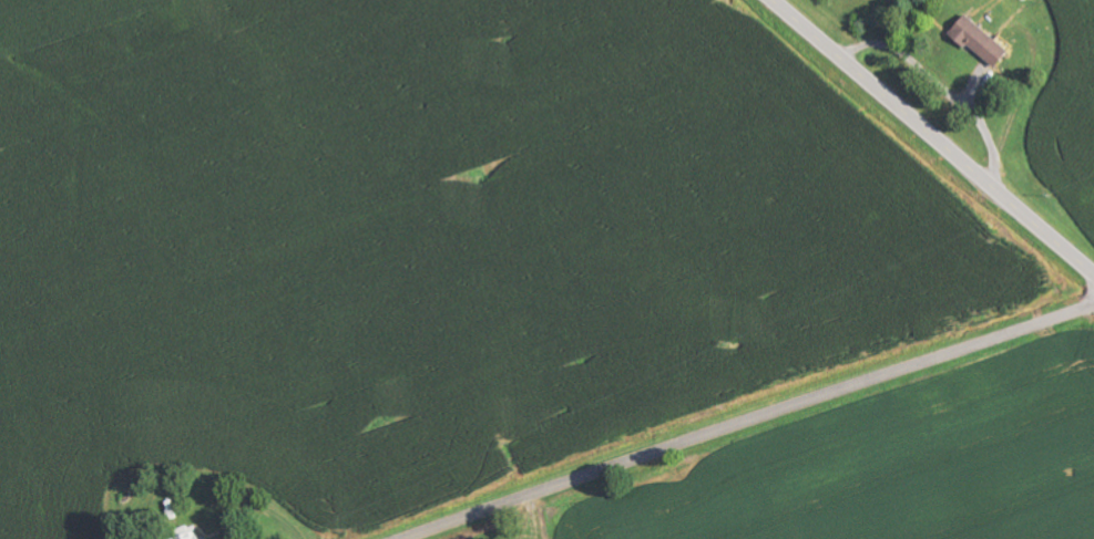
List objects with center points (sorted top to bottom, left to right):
building: (980, 42)
road: (933, 136)
road: (747, 421)
building: (190, 536)

